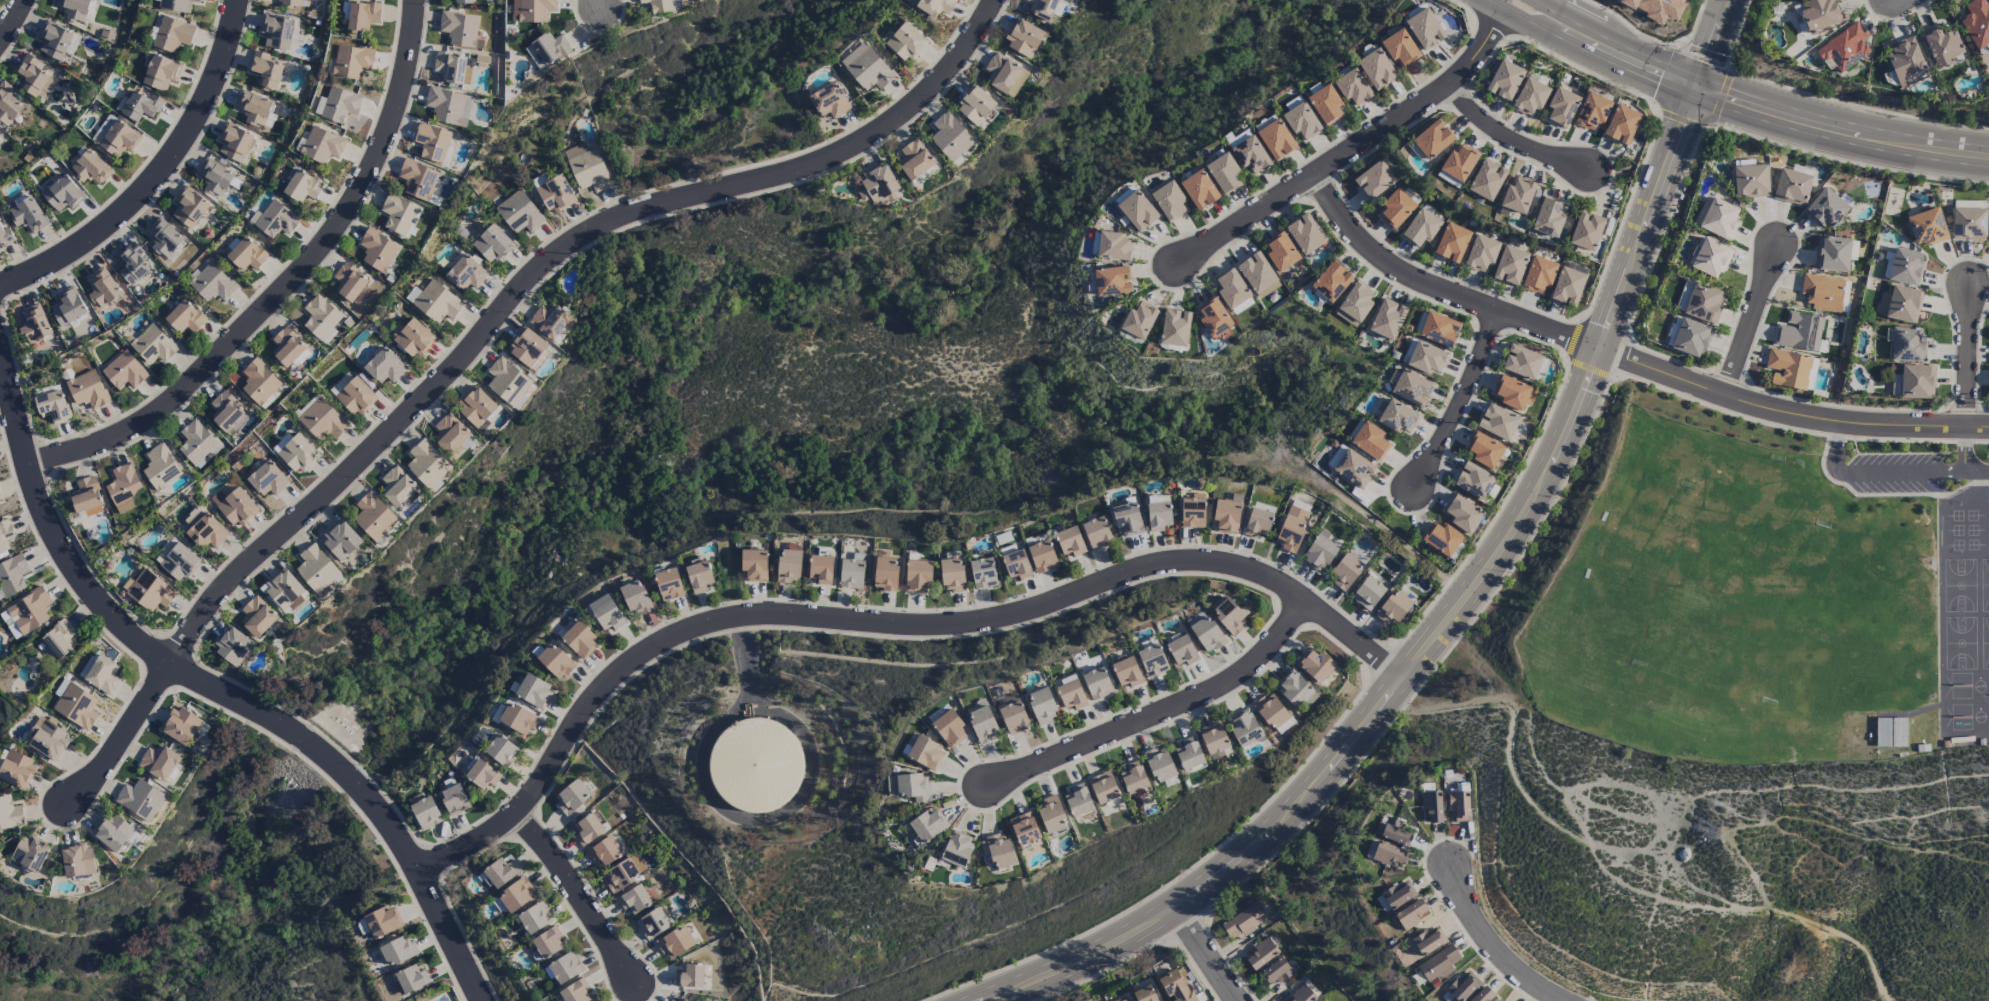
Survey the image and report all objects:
road: (597, 1)
building: (289, 2)
building: (461, 2)
road: (1540, 3)
building: (176, 5)
building: (658, 5)
building: (935, 6)
building: (1656, 7)
building: (1042, 8)
building: (73, 9)
building: (531, 10)
building: (1819, 14)
building: (362, 15)
road: (13, 21)
building: (1977, 25)
building: (1425, 29)
building: (460, 30)
building: (277, 31)
building: (172, 34)
building: (1023, 38)
road: (1712, 39)
building: (54, 40)
road: (1611, 41)
building: (905, 42)
building: (1941, 46)
building: (1400, 48)
building: (1843, 48)
building: (546, 50)
road: (1587, 50)
building: (1904, 61)
building: (351, 62)
building: (451, 68)
building: (866, 68)
building: (1376, 69)
building: (265, 70)
building: (161, 72)
building: (1004, 75)
building: (31, 76)
traffic signals: (1697, 78)
building: (1504, 80)
building: (1352, 87)
road: (1693, 87)
building: (1530, 97)
traffic signals: (1690, 97)
building: (829, 101)
building: (1325, 104)
building: (8, 105)
building: (337, 105)
building: (140, 106)
building: (448, 106)
building: (975, 106)
building: (253, 107)
building: (1561, 107)
building: (1592, 112)
road: (1840, 121)
building: (1302, 122)
building: (1621, 125)
building: (116, 136)
building: (950, 137)
road: (1511, 139)
building: (1276, 140)
building: (1432, 140)
road: (1837, 140)
building: (432, 142)
building: (233, 143)
building: (322, 145)
road: (1354, 151)
building: (1251, 155)
building: (914, 160)
building: (1457, 166)
building: (91, 168)
building: (587, 168)
building: (1224, 173)
road: (156, 176)
building: (215, 177)
building: (418, 179)
building: (1374, 180)
building: (1486, 180)
building: (1750, 181)
building: (879, 183)
building: (302, 186)
building: (1792, 187)
building: (1199, 190)
building: (63, 194)
building: (555, 194)
building: (1518, 196)
building: (1169, 202)
building: (189, 207)
building: (1395, 209)
building: (1826, 209)
building: (1137, 211)
building: (519, 213)
building: (398, 214)
building: (28, 215)
building: (1716, 217)
building: (1548, 218)
building: (276, 220)
building: (1968, 224)
building: (1926, 227)
building: (1420, 228)
building: (1586, 231)
building: (1305, 234)
building: (5, 236)
building: (1988, 237)
building: (164, 238)
building: (1452, 243)
building: (492, 244)
building: (1113, 247)
building: (377, 250)
building: (1280, 251)
building: (1481, 253)
building: (1831, 254)
building: (246, 255)
building: (1709, 258)
building: (131, 265)
building: (1510, 266)
building: (1905, 267)
building: (465, 274)
building: (1258, 275)
building: (1539, 275)
building: (1111, 281)
building: (349, 282)
building: (1331, 282)
building: (212, 283)
road: (284, 284)
building: (1567, 286)
building: (102, 288)
building: (1231, 289)
building: (1822, 292)
building: (434, 302)
building: (1356, 302)
building: (1704, 303)
building: (1900, 304)
building: (67, 307)
building: (185, 317)
building: (1213, 317)
building: (321, 319)
building: (1387, 319)
building: (549, 321)
building: (1139, 321)
road: (1751, 321)
building: (34, 325)
building: (1175, 328)
building: (1439, 330)
building: (1799, 332)
road: (485, 334)
building: (1691, 338)
building: (414, 339)
building: (153, 345)
building: (1907, 345)
building: (287, 347)
building: (527, 348)
road: (1966, 357)
building: (1427, 358)
road: (1626, 361)
building: (1521, 362)
building: (384, 367)
building: (1787, 369)
building: (124, 371)
building: (1916, 382)
building: (259, 383)
building: (509, 384)
building: (1412, 388)
building: (87, 390)
building: (1513, 393)
building: (356, 397)
road: (1463, 402)
building: (51, 406)
building: (475, 407)
building: (227, 413)
building: (1398, 417)
building: (322, 420)
building: (1498, 422)
building: (451, 436)
building: (1370, 441)
building: (197, 444)
building: (1484, 450)
building: (298, 454)
building: (427, 464)
building: (160, 467)
building: (1354, 469)
road: (1979, 473)
parking lot: (1901, 474)
road: (1901, 474)
building: (267, 480)
building: (1474, 481)
building: (123, 483)
building: (396, 486)
building: (86, 497)
building: (1154, 499)
building: (0, 500)
building: (234, 506)
building: (1192, 511)
building: (1463, 514)
building: (1225, 516)
building: (373, 517)
building: (1158, 517)
building: (1126, 520)
building: (1257, 523)
building: (1291, 529)
building: (206, 532)
building: (1096, 532)
building: (5, 537)
building: (1442, 539)
building: (340, 541)
building: (1069, 542)
building: (1319, 553)
building: (1042, 557)
building: (179, 563)
building: (1016, 565)
building: (754, 566)
building: (789, 566)
building: (315, 568)
building: (820, 569)
building: (852, 572)
building: (1345, 572)
building: (982, 573)
building: (885, 574)
building: (12, 575)
building: (951, 575)
building: (917, 576)
building: (698, 577)
building: (668, 584)
building: (282, 589)
building: (150, 591)
building: (1367, 593)
building: (635, 598)
building: (1393, 608)
building: (30, 611)
building: (1228, 615)
building: (607, 616)
building: (257, 617)
building: (10, 625)
road: (880, 627)
road: (1440, 631)
building: (1207, 634)
building: (59, 639)
building: (579, 640)
building: (232, 647)
building: (1181, 651)
road: (745, 657)
building: (554, 661)
building: (1152, 661)
building: (1316, 665)
building: (1126, 672)
building: (100, 673)
building: (1097, 684)
building: (1294, 689)
building: (533, 691)
road: (215, 693)
building: (1071, 695)
building: (1042, 706)
building: (77, 707)
building: (1273, 713)
road: (1156, 714)
building: (1013, 717)
building: (517, 719)
building: (982, 724)
building: (181, 725)
building: (949, 729)
building: (1245, 729)
building: (1882, 732)
building: (49, 739)
building: (1213, 740)
building: (501, 751)
building: (925, 752)
building: (1188, 754)
building: (158, 762)
building: (1159, 764)
building: (755, 765)
building: (17, 770)
building: (482, 775)
building: (1134, 777)
building: (913, 787)
building: (1103, 788)
building: (571, 796)
building: (140, 800)
building: (453, 800)
building: (1077, 800)
building: (1459, 805)
building: (1432, 806)
road: (782, 811)
building: (425, 813)
building: (1051, 814)
building: (10, 815)
building: (926, 826)
building: (587, 829)
building: (1024, 829)
building: (1395, 832)
building: (113, 833)
building: (957, 849)
building: (998, 850)
building: (31, 853)
building: (604, 853)
building: (1388, 854)
building: (77, 860)
building: (500, 873)
building: (623, 873)
park: (1705, 873)
road: (1612, 876)
building: (516, 895)
building: (1398, 895)
road: (578, 896)
building: (634, 900)
park: (274, 914)
building: (1410, 915)
building: (534, 918)
building: (382, 922)
building: (1243, 922)
building: (652, 924)
building: (547, 942)
building: (1428, 942)
building: (675, 943)
road: (1494, 945)
building: (397, 951)
building: (1262, 953)
road: (1205, 955)
building: (1438, 964)
building: (564, 968)
building: (1275, 971)
building: (690, 975)
building: (410, 979)
building: (1175, 986)
building: (1460, 988)
park: (8, 992)
building: (575, 992)
building: (1145, 994)
building: (1302, 994)
building: (1484, 995)
building: (679, 998)
building: (1125, 999)

